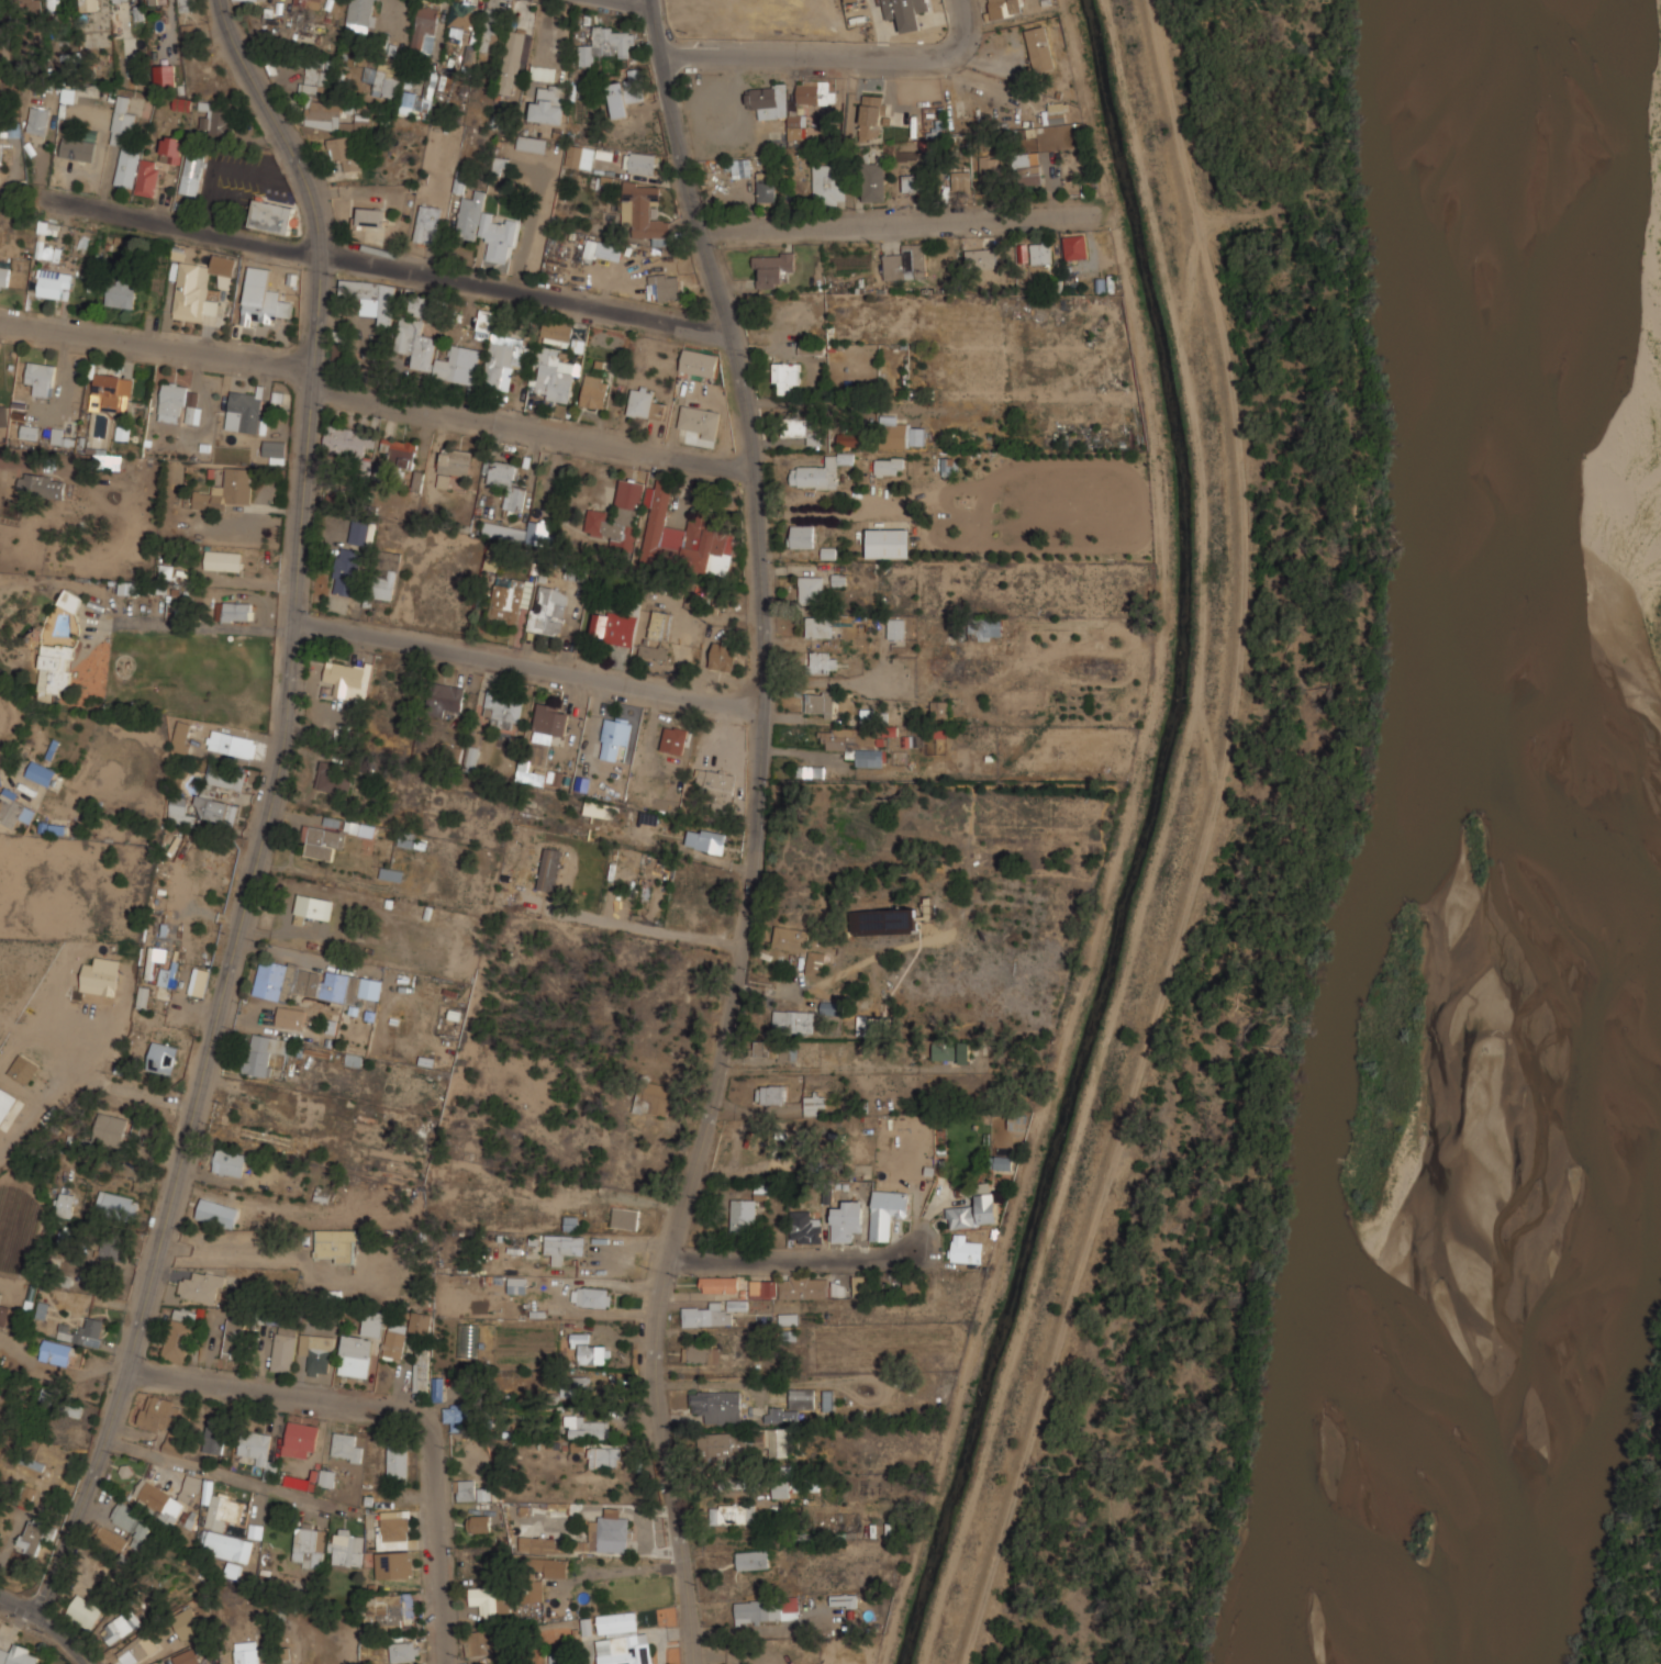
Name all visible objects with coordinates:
building: (120, 0)
building: (258, 0)
building: (153, 1)
building: (309, 1)
building: (55, 3)
road: (633, 3)
building: (89, 4)
building: (26, 5)
building: (187, 5)
building: (1005, 7)
building: (906, 12)
building: (462, 15)
building: (360, 18)
road: (960, 23)
building: (426, 26)
building: (492, 29)
building: (188, 34)
building: (607, 43)
building: (1040, 47)
road: (807, 52)
building: (470, 55)
building: (512, 60)
building: (544, 71)
building: (166, 74)
building: (313, 79)
building: (387, 83)
building: (816, 90)
building: (422, 94)
building: (618, 98)
building: (548, 102)
building: (181, 104)
building: (774, 105)
building: (323, 112)
building: (1056, 112)
building: (872, 116)
building: (216, 118)
building: (40, 119)
building: (532, 143)
building: (78, 148)
building: (345, 150)
building: (140, 152)
building: (581, 155)
building: (640, 161)
building: (740, 167)
building: (1027, 167)
building: (992, 168)
building: (192, 171)
building: (961, 179)
building: (873, 180)
building: (912, 181)
building: (828, 183)
building: (767, 188)
building: (644, 210)
building: (272, 214)
building: (370, 219)
building: (428, 222)
road: (896, 222)
building: (487, 227)
building: (82, 243)
building: (1075, 245)
building: (591, 249)
building: (1041, 252)
building: (982, 257)
road: (382, 261)
building: (906, 261)
building: (771, 267)
building: (4, 276)
building: (55, 282)
building: (667, 283)
building: (199, 287)
building: (122, 288)
building: (374, 294)
building: (265, 298)
building: (415, 304)
building: (433, 306)
building: (558, 331)
building: (415, 343)
building: (339, 346)
building: (499, 346)
building: (812, 348)
building: (699, 361)
building: (458, 364)
building: (554, 375)
building: (785, 376)
building: (41, 378)
building: (595, 390)
building: (111, 393)
building: (192, 399)
road: (372, 400)
building: (645, 402)
building: (171, 403)
building: (244, 412)
building: (193, 415)
building: (3, 416)
building: (700, 420)
building: (803, 427)
building: (29, 432)
building: (896, 434)
building: (917, 435)
building: (59, 437)
building: (850, 438)
building: (347, 439)
building: (274, 448)
building: (399, 450)
building: (456, 462)
building: (890, 465)
building: (950, 466)
building: (820, 471)
building: (443, 481)
building: (506, 481)
building: (41, 485)
building: (226, 491)
building: (664, 529)
building: (504, 531)
building: (538, 532)
building: (358, 534)
building: (801, 535)
building: (889, 541)
building: (223, 560)
building: (492, 560)
building: (346, 569)
building: (387, 573)
building: (812, 589)
building: (70, 601)
building: (502, 602)
building: (548, 610)
building: (233, 612)
building: (660, 625)
building: (820, 625)
building: (615, 626)
building: (896, 627)
building: (989, 627)
building: (654, 649)
building: (724, 656)
building: (823, 661)
road: (528, 665)
building: (54, 671)
building: (345, 675)
building: (447, 696)
building: (821, 702)
building: (939, 707)
building: (504, 708)
building: (553, 717)
building: (615, 735)
building: (181, 737)
building: (673, 741)
building: (855, 742)
building: (232, 744)
building: (471, 759)
building: (811, 770)
building: (40, 773)
building: (528, 774)
building: (333, 775)
building: (225, 778)
building: (717, 784)
building: (599, 807)
building: (13, 808)
road: (269, 808)
building: (215, 809)
building: (179, 812)
building: (360, 827)
road: (758, 833)
building: (405, 839)
building: (322, 840)
building: (705, 840)
river: (1556, 840)
road: (1316, 842)
building: (549, 873)
building: (391, 874)
building: (315, 905)
building: (885, 920)
building: (791, 937)
building: (815, 961)
building: (100, 976)
building: (168, 978)
building: (313, 981)
building: (143, 997)
building: (832, 1006)
building: (291, 1017)
building: (794, 1020)
building: (863, 1024)
building: (880, 1024)
building: (776, 1050)
building: (265, 1051)
building: (951, 1051)
building: (163, 1058)
building: (352, 1058)
building: (23, 1070)
building: (772, 1093)
building: (655, 1097)
building: (815, 1104)
building: (8, 1107)
building: (1019, 1118)
building: (110, 1129)
building: (144, 1129)
building: (265, 1137)
building: (230, 1162)
building: (1003, 1163)
building: (66, 1205)
building: (118, 1206)
building: (378, 1208)
building: (977, 1208)
building: (218, 1210)
building: (888, 1211)
building: (745, 1213)
building: (626, 1216)
building: (847, 1219)
building: (805, 1226)
building: (336, 1243)
building: (564, 1244)
building: (111, 1247)
building: (967, 1248)
road: (847, 1257)
building: (75, 1283)
building: (517, 1283)
building: (718, 1283)
building: (861, 1283)
building: (201, 1285)
building: (804, 1286)
building: (914, 1286)
building: (765, 1287)
building: (592, 1295)
building: (737, 1305)
building: (706, 1314)
building: (3, 1315)
building: (788, 1319)
building: (421, 1320)
building: (180, 1331)
building: (83, 1332)
building: (233, 1338)
building: (467, 1338)
building: (394, 1339)
building: (361, 1347)
building: (283, 1348)
building: (592, 1350)
building: (700, 1351)
building: (57, 1352)
building: (317, 1352)
building: (421, 1370)
building: (576, 1384)
building: (438, 1387)
building: (802, 1396)
building: (716, 1405)
building: (158, 1411)
road: (395, 1411)
building: (776, 1414)
building: (454, 1416)
building: (588, 1425)
building: (215, 1433)
building: (300, 1439)
building: (777, 1440)
building: (721, 1445)
building: (346, 1447)
building: (259, 1450)
building: (605, 1455)
building: (399, 1461)
road: (230, 1475)
building: (324, 1476)
building: (785, 1487)
building: (472, 1490)
building: (27, 1494)
building: (165, 1498)
building: (220, 1506)
building: (733, 1512)
building: (134, 1521)
building: (479, 1522)
building: (393, 1525)
building: (607, 1531)
building: (110, 1537)
building: (31, 1538)
building: (538, 1543)
building: (309, 1544)
building: (230, 1545)
building: (348, 1546)
building: (753, 1559)
building: (394, 1564)
building: (549, 1565)
road: (618, 1571)
building: (535, 1590)
building: (488, 1601)
road: (22, 1602)
building: (767, 1609)
building: (85, 1610)
building: (393, 1611)
building: (187, 1621)
building: (121, 1626)
road: (757, 1629)
road: (658, 1633)
road: (67, 1638)
building: (623, 1639)
building: (481, 1641)
building: (135, 1649)
building: (405, 1651)
building: (247, 1652)
road: (583, 1653)
building: (19, 1654)
building: (187, 1656)

